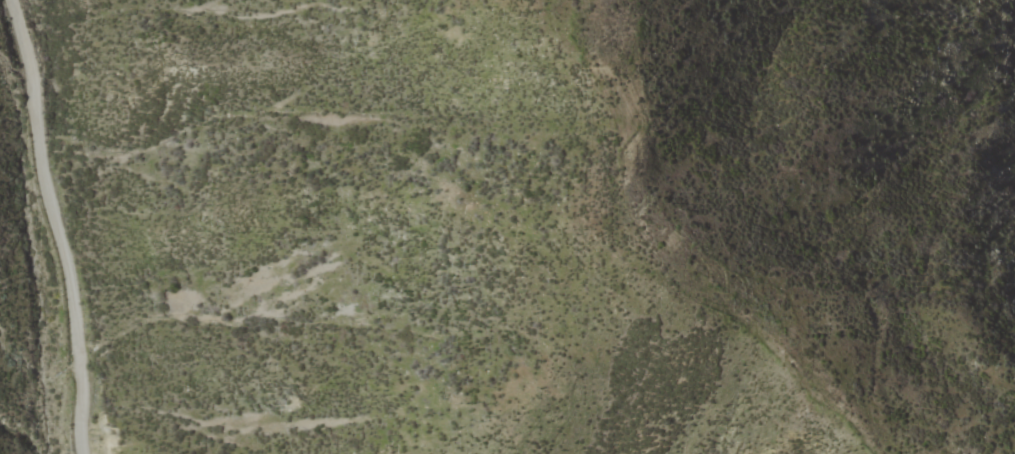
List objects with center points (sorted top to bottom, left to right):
road: (53, 226)

